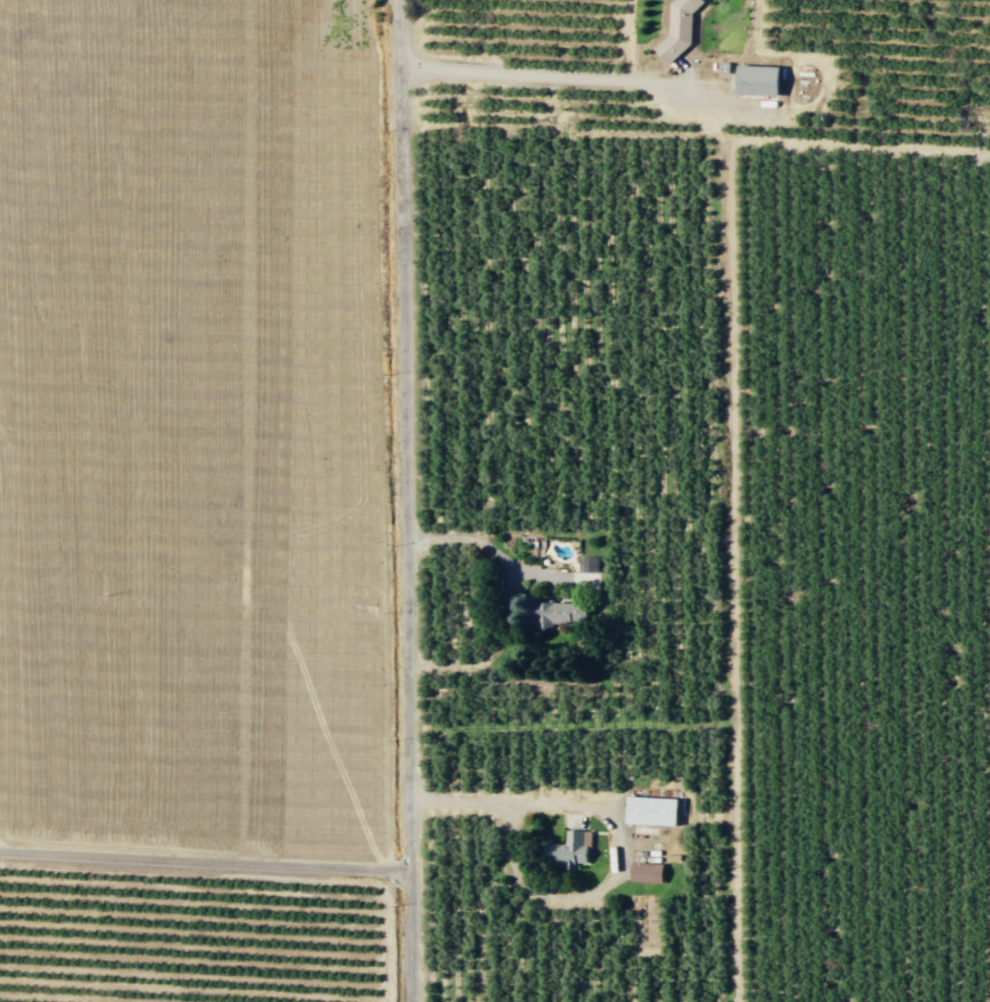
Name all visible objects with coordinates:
building: (678, 28)
road: (537, 74)
building: (757, 79)
road: (405, 500)
building: (588, 564)
road: (508, 600)
building: (558, 613)
building: (651, 811)
road: (622, 840)
building: (569, 852)
road: (204, 860)
building: (646, 872)

